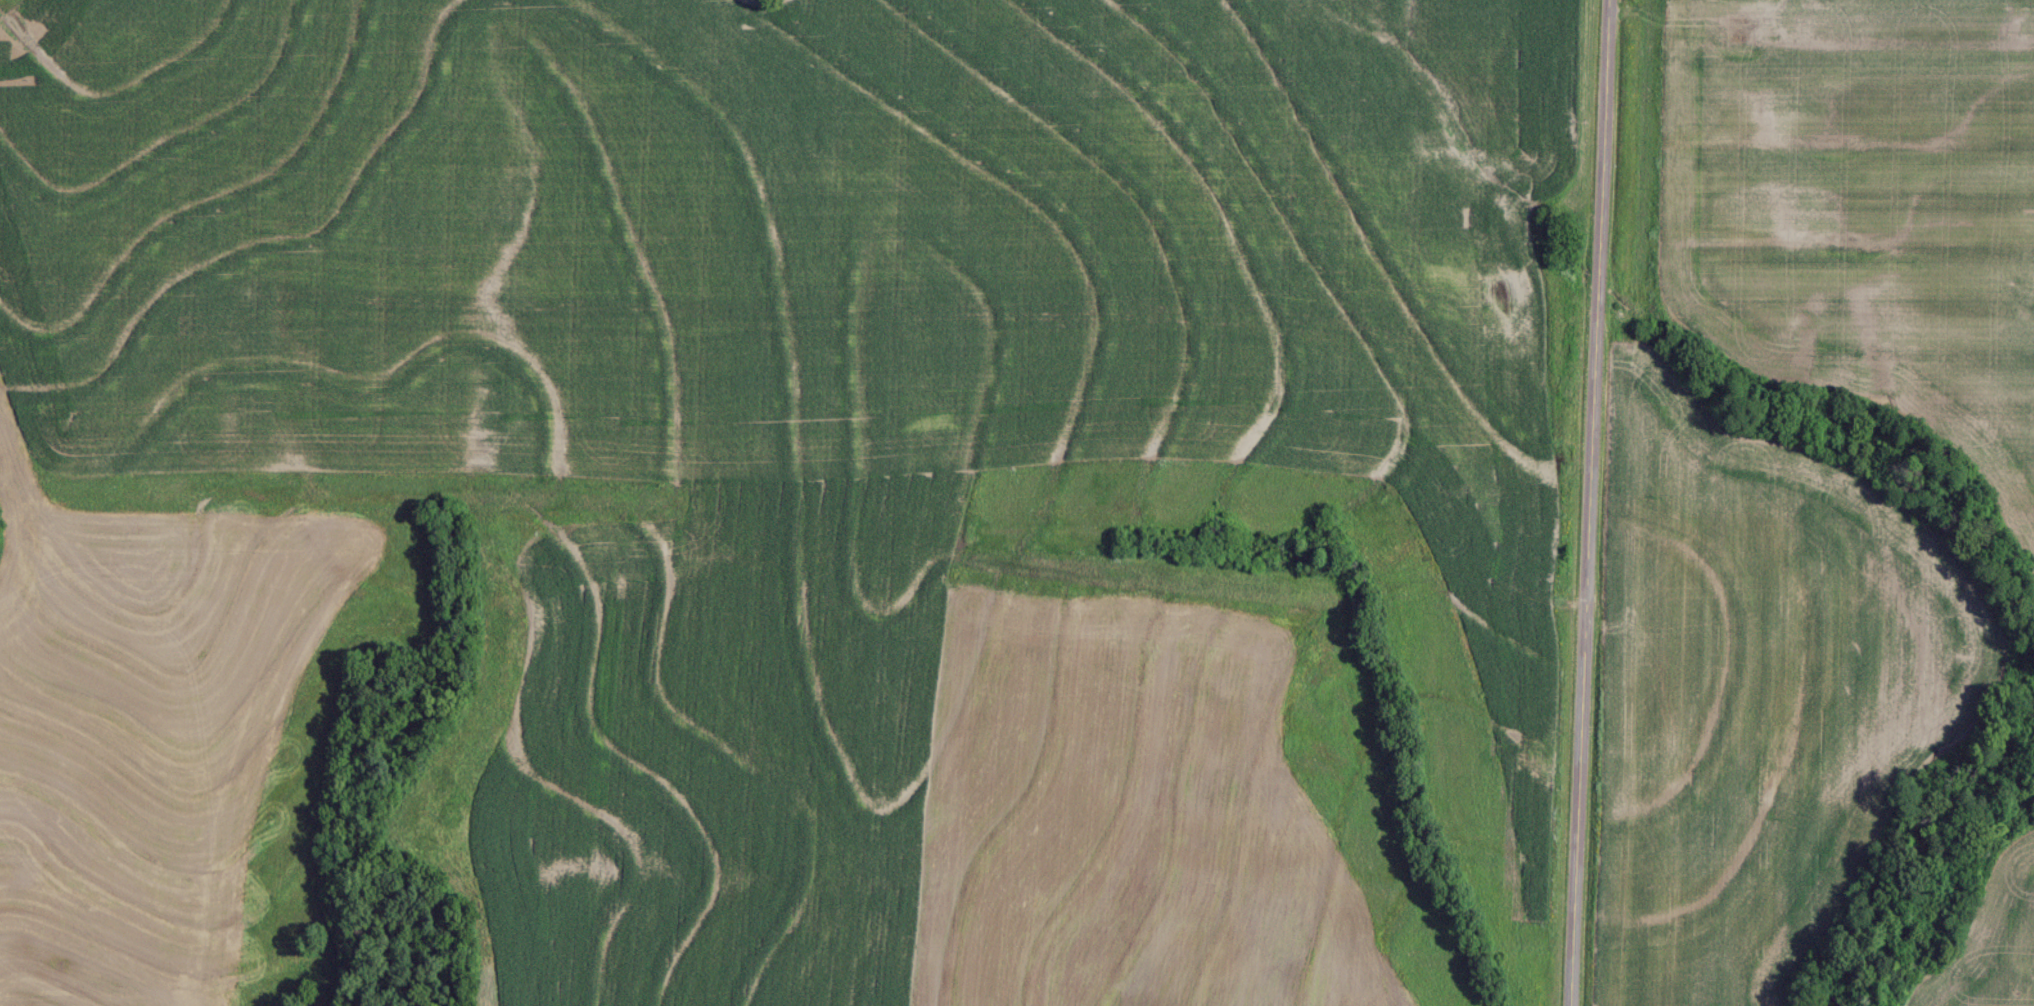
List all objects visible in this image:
crop: (1858, 213)
road: (1591, 502)
crop: (1761, 694)
crop: (1985, 935)

